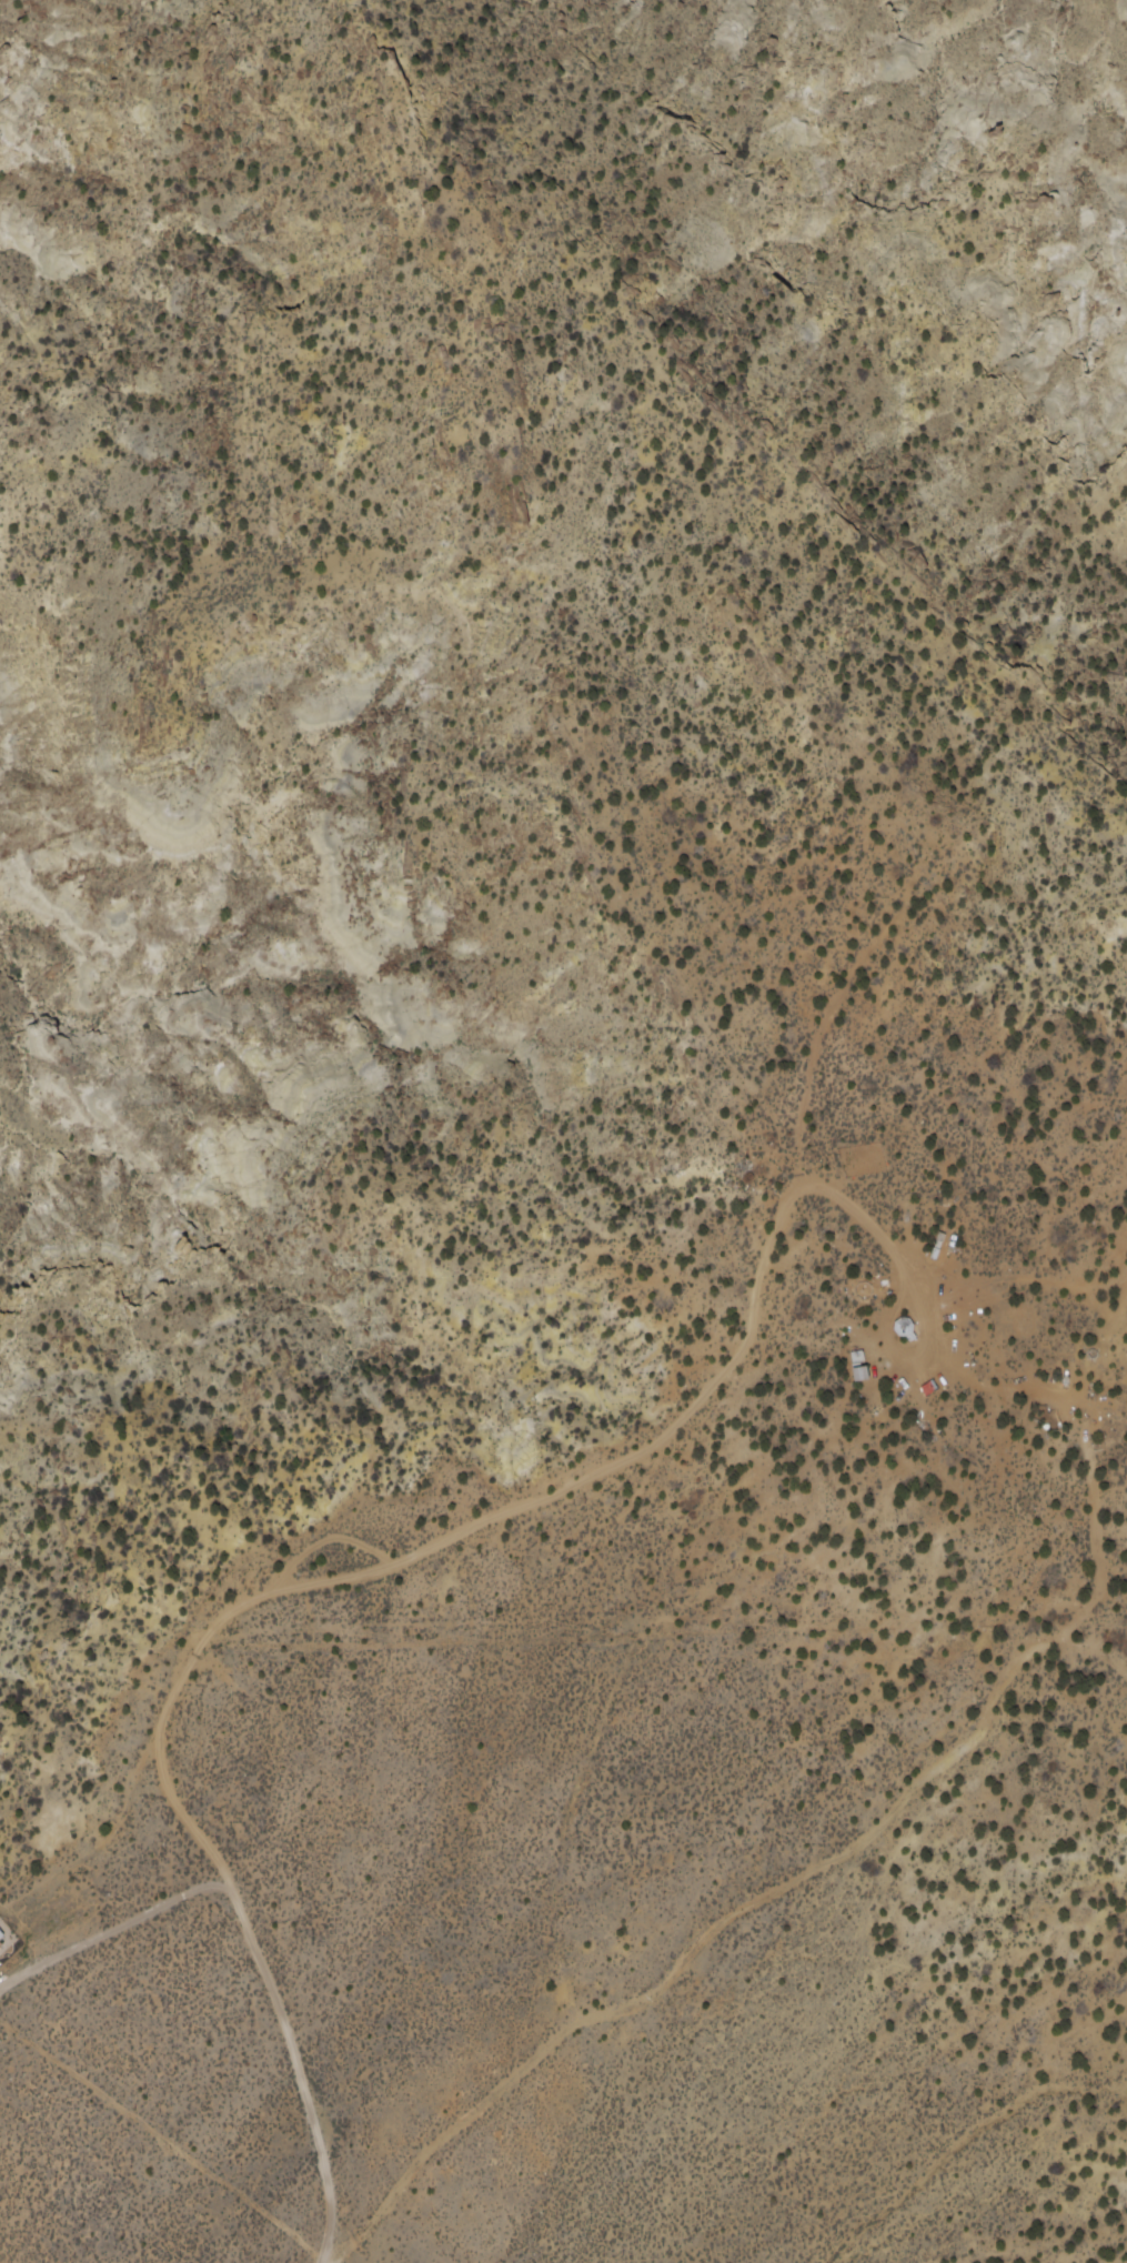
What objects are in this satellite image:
building: (904, 1326)
road: (570, 1480)
building: (2, 1932)

